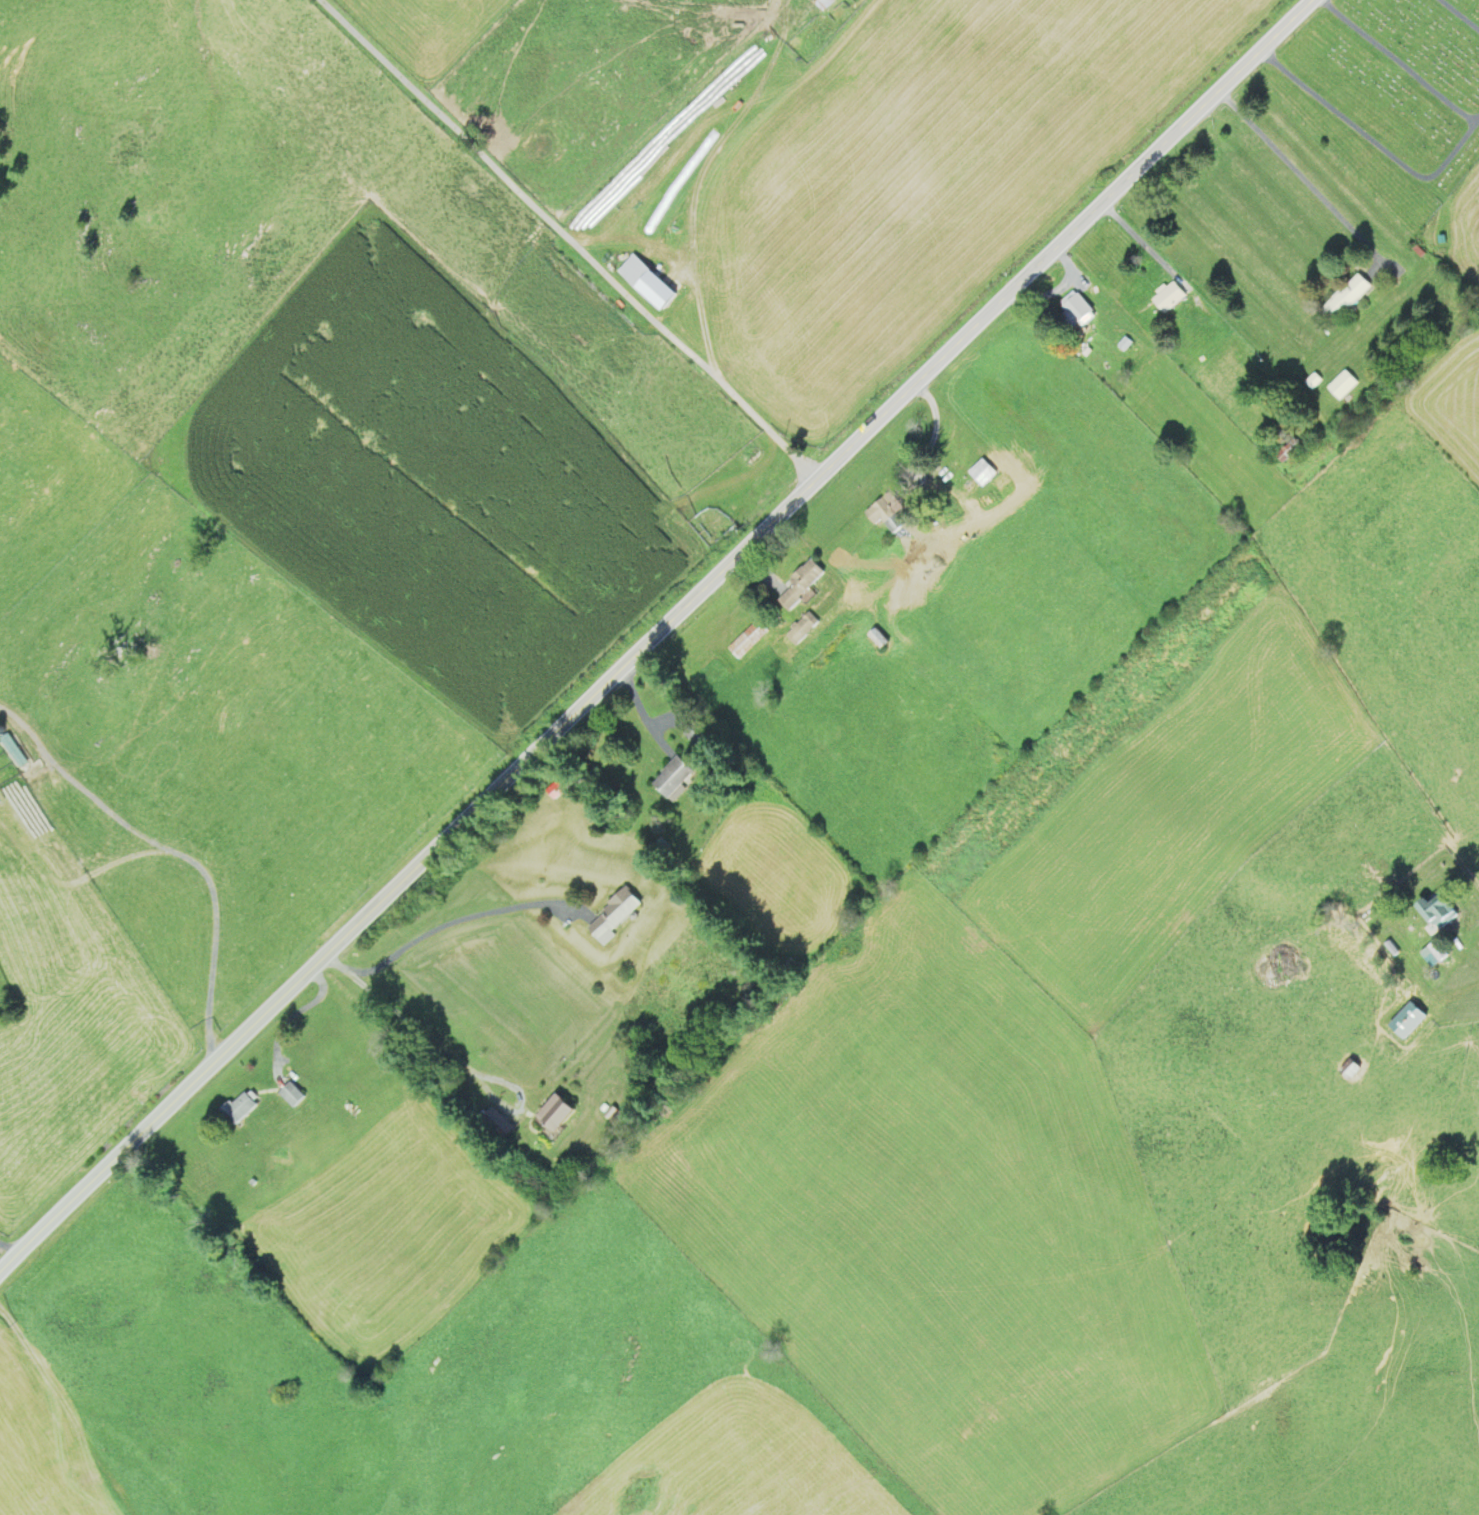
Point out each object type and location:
building: (824, 5)
road: (1460, 14)
road: (1398, 61)
park: (1388, 96)
road: (1373, 141)
road: (568, 240)
building: (648, 287)
building: (1167, 298)
building: (1344, 299)
building: (1076, 310)
building: (1340, 386)
building: (982, 472)
building: (884, 512)
building: (799, 583)
building: (799, 629)
road: (657, 635)
building: (876, 638)
building: (746, 639)
building: (11, 752)
building: (672, 780)
building: (1435, 912)
building: (611, 916)
building: (1391, 945)
building: (1439, 954)
building: (1411, 1023)
building: (289, 1096)
building: (237, 1109)
building: (552, 1114)

